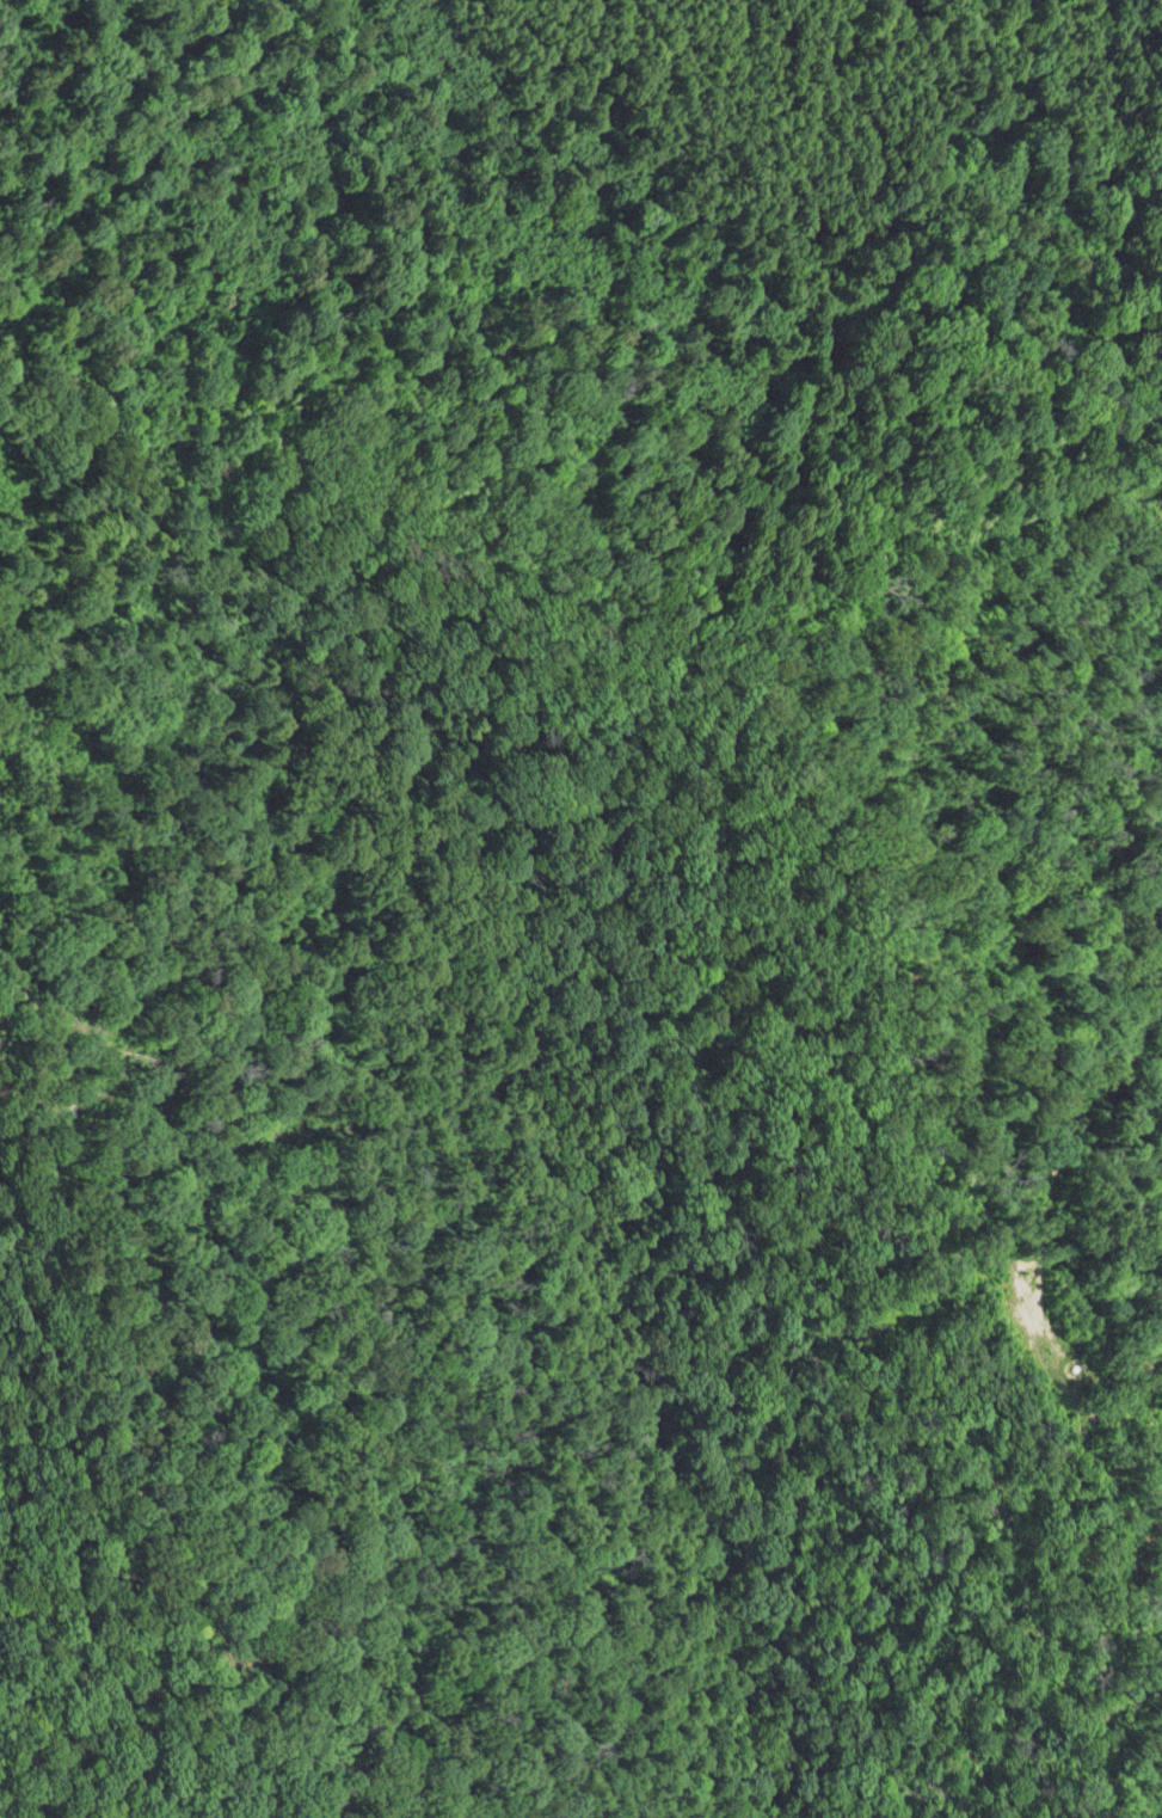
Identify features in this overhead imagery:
road: (622, 1688)

